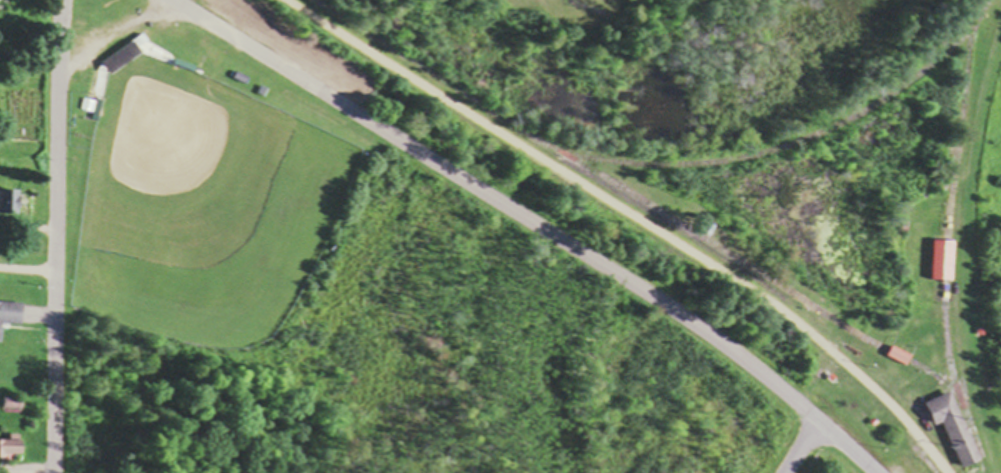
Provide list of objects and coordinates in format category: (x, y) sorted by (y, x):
building: (4, 3)
building: (123, 58)
building: (91, 107)
road: (499, 199)
building: (11, 203)
road: (630, 216)
road: (55, 236)
road: (962, 245)
building: (941, 261)
road: (28, 268)
building: (10, 316)
building: (898, 356)
building: (954, 429)
road: (845, 445)
road: (798, 446)
building: (12, 448)

